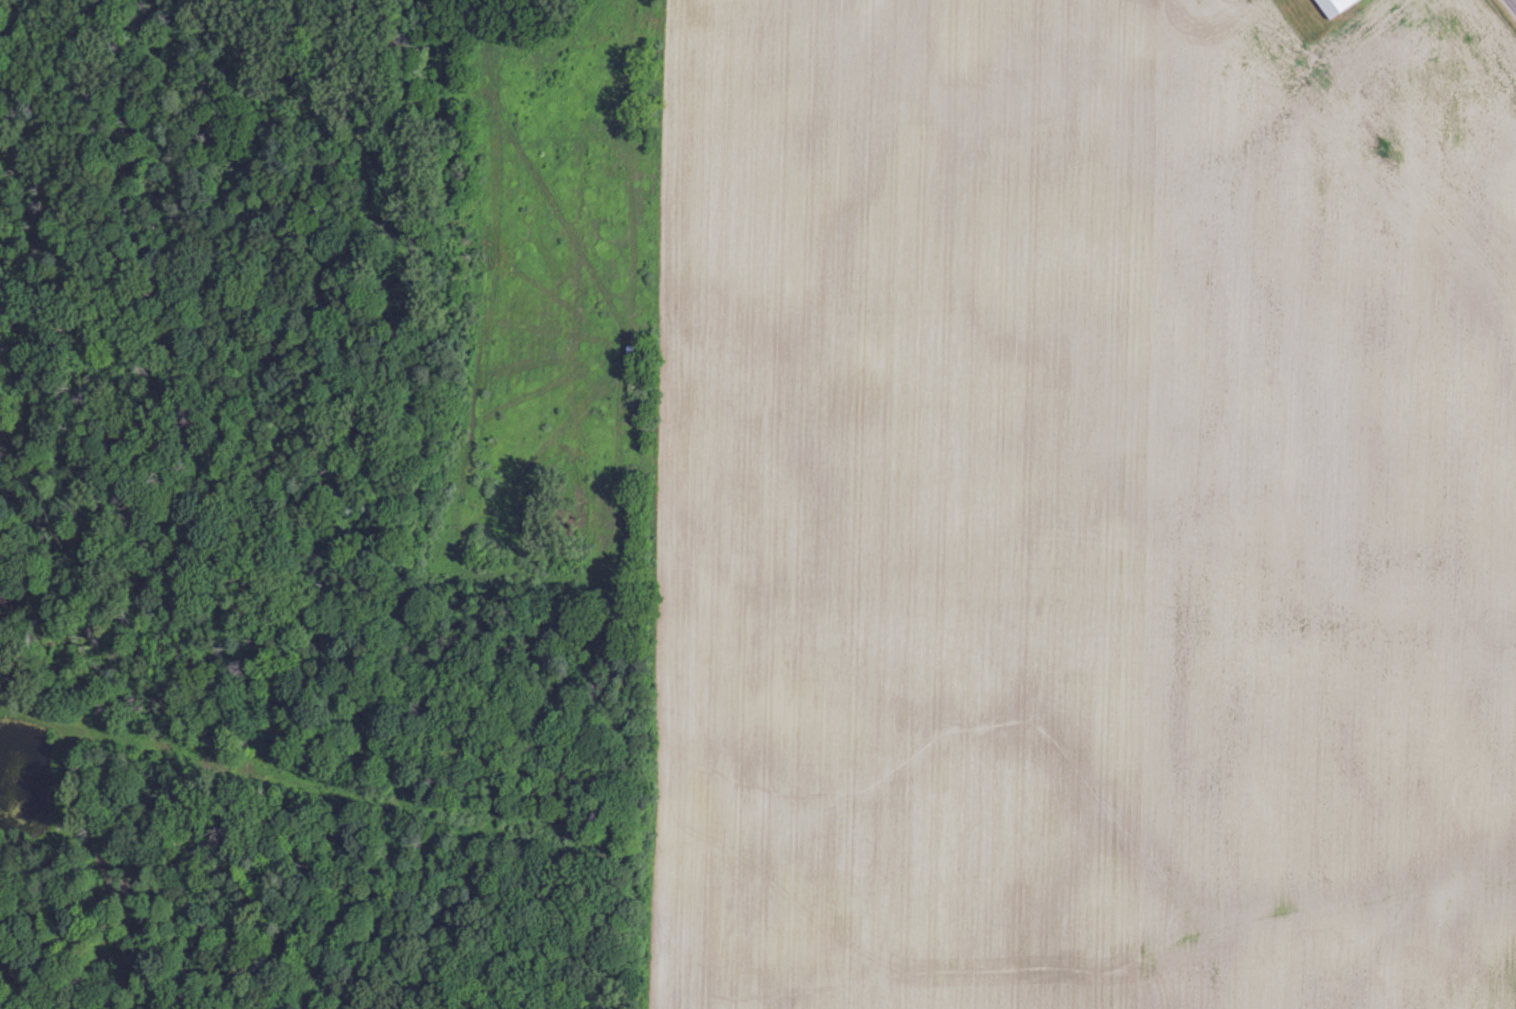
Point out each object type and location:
road: (1513, 3)
building: (1331, 7)

